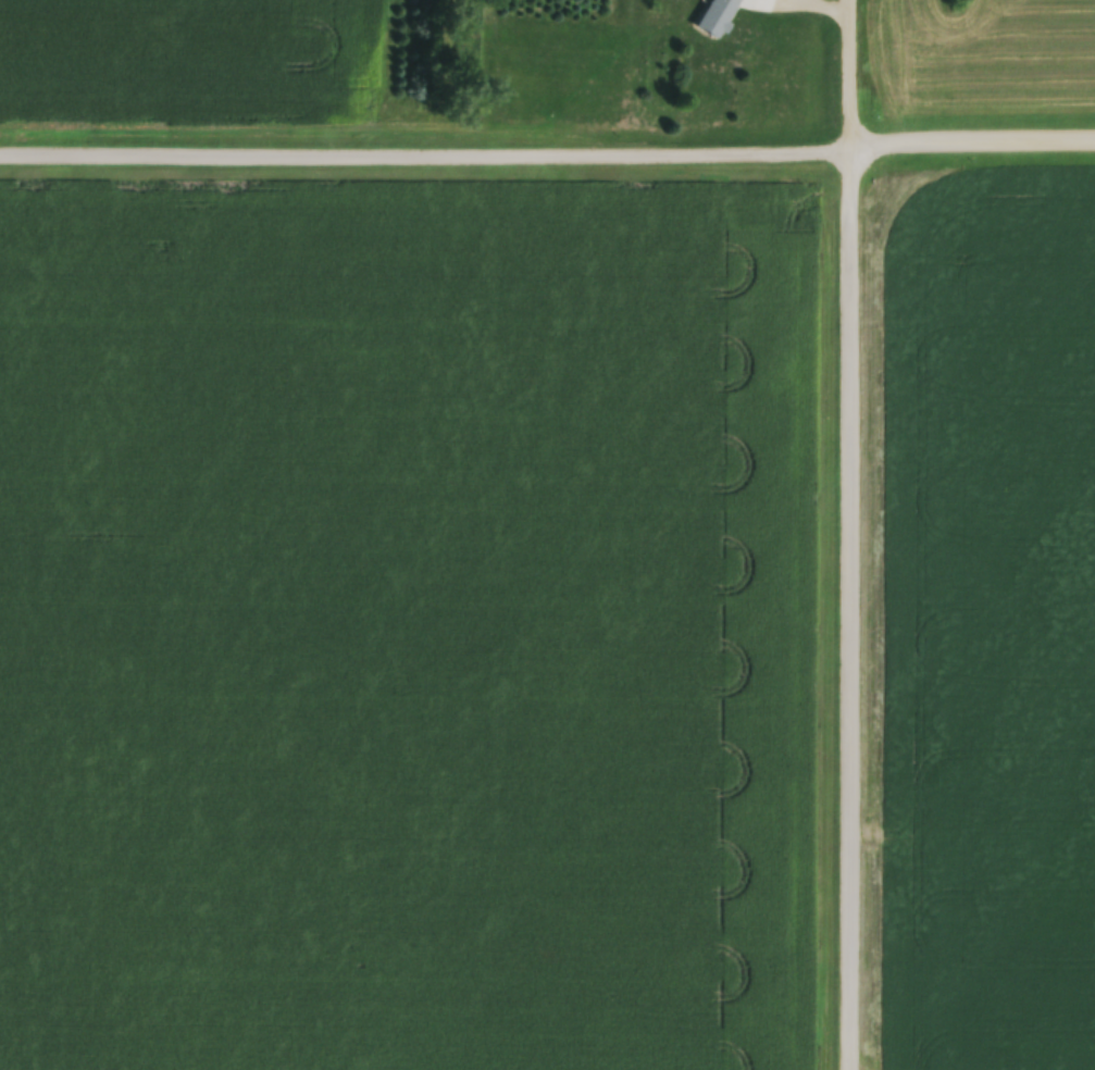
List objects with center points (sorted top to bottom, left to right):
building: (718, 16)
road: (974, 137)
road: (427, 149)
road: (851, 534)
crop: (987, 622)
crop: (401, 623)

